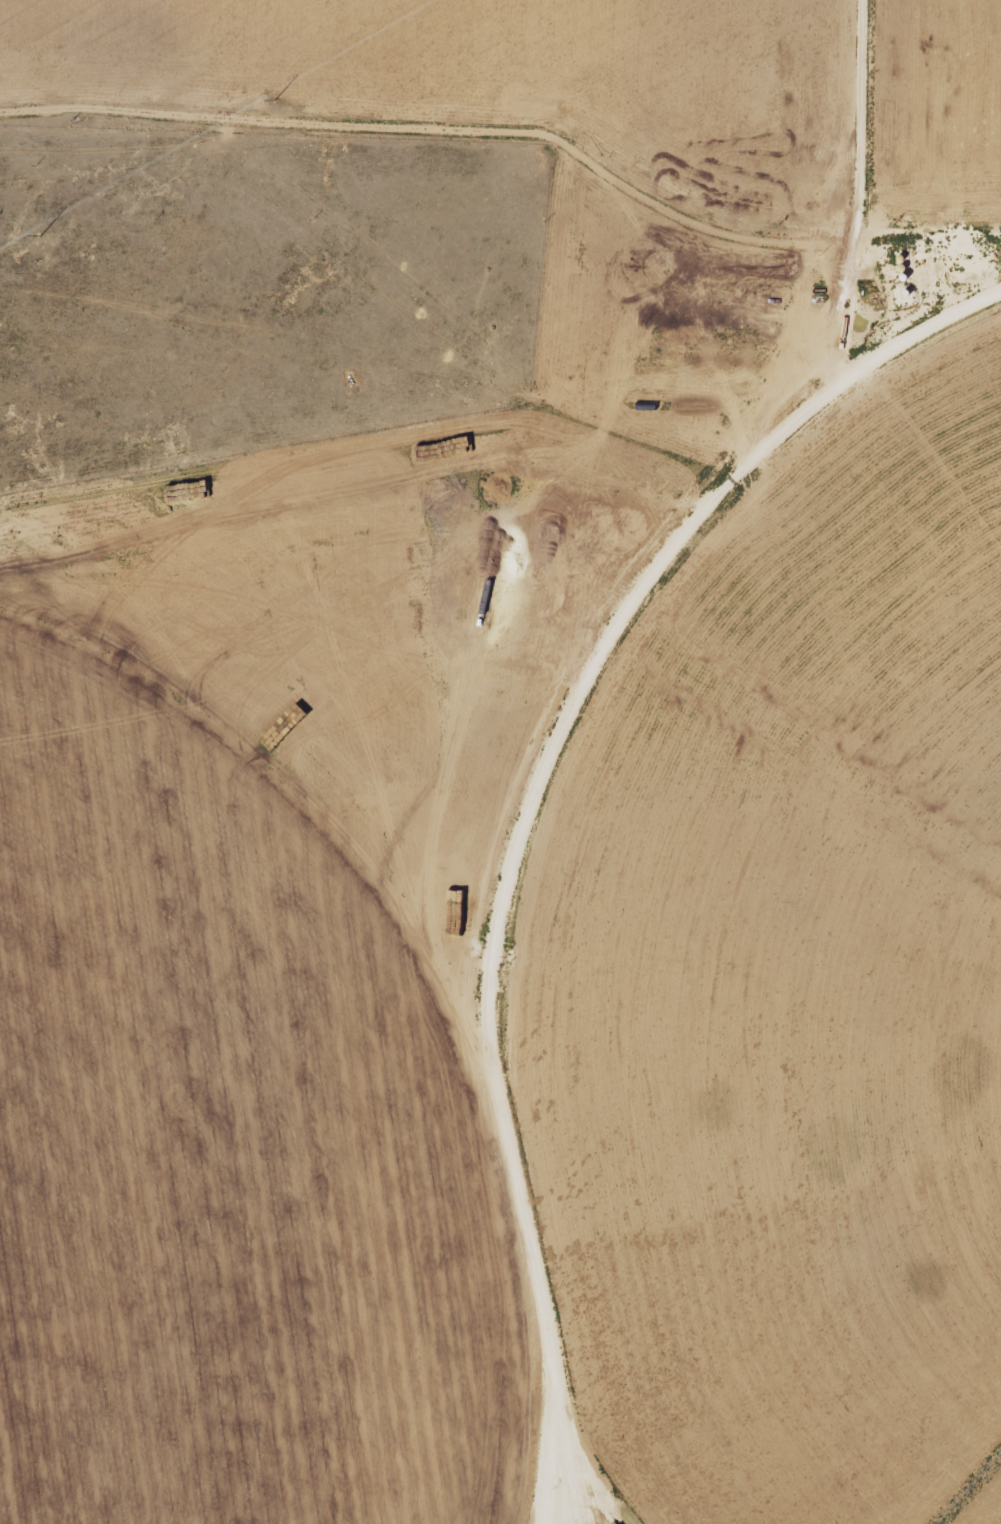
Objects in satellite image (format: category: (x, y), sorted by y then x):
power tower: (219, 126)

